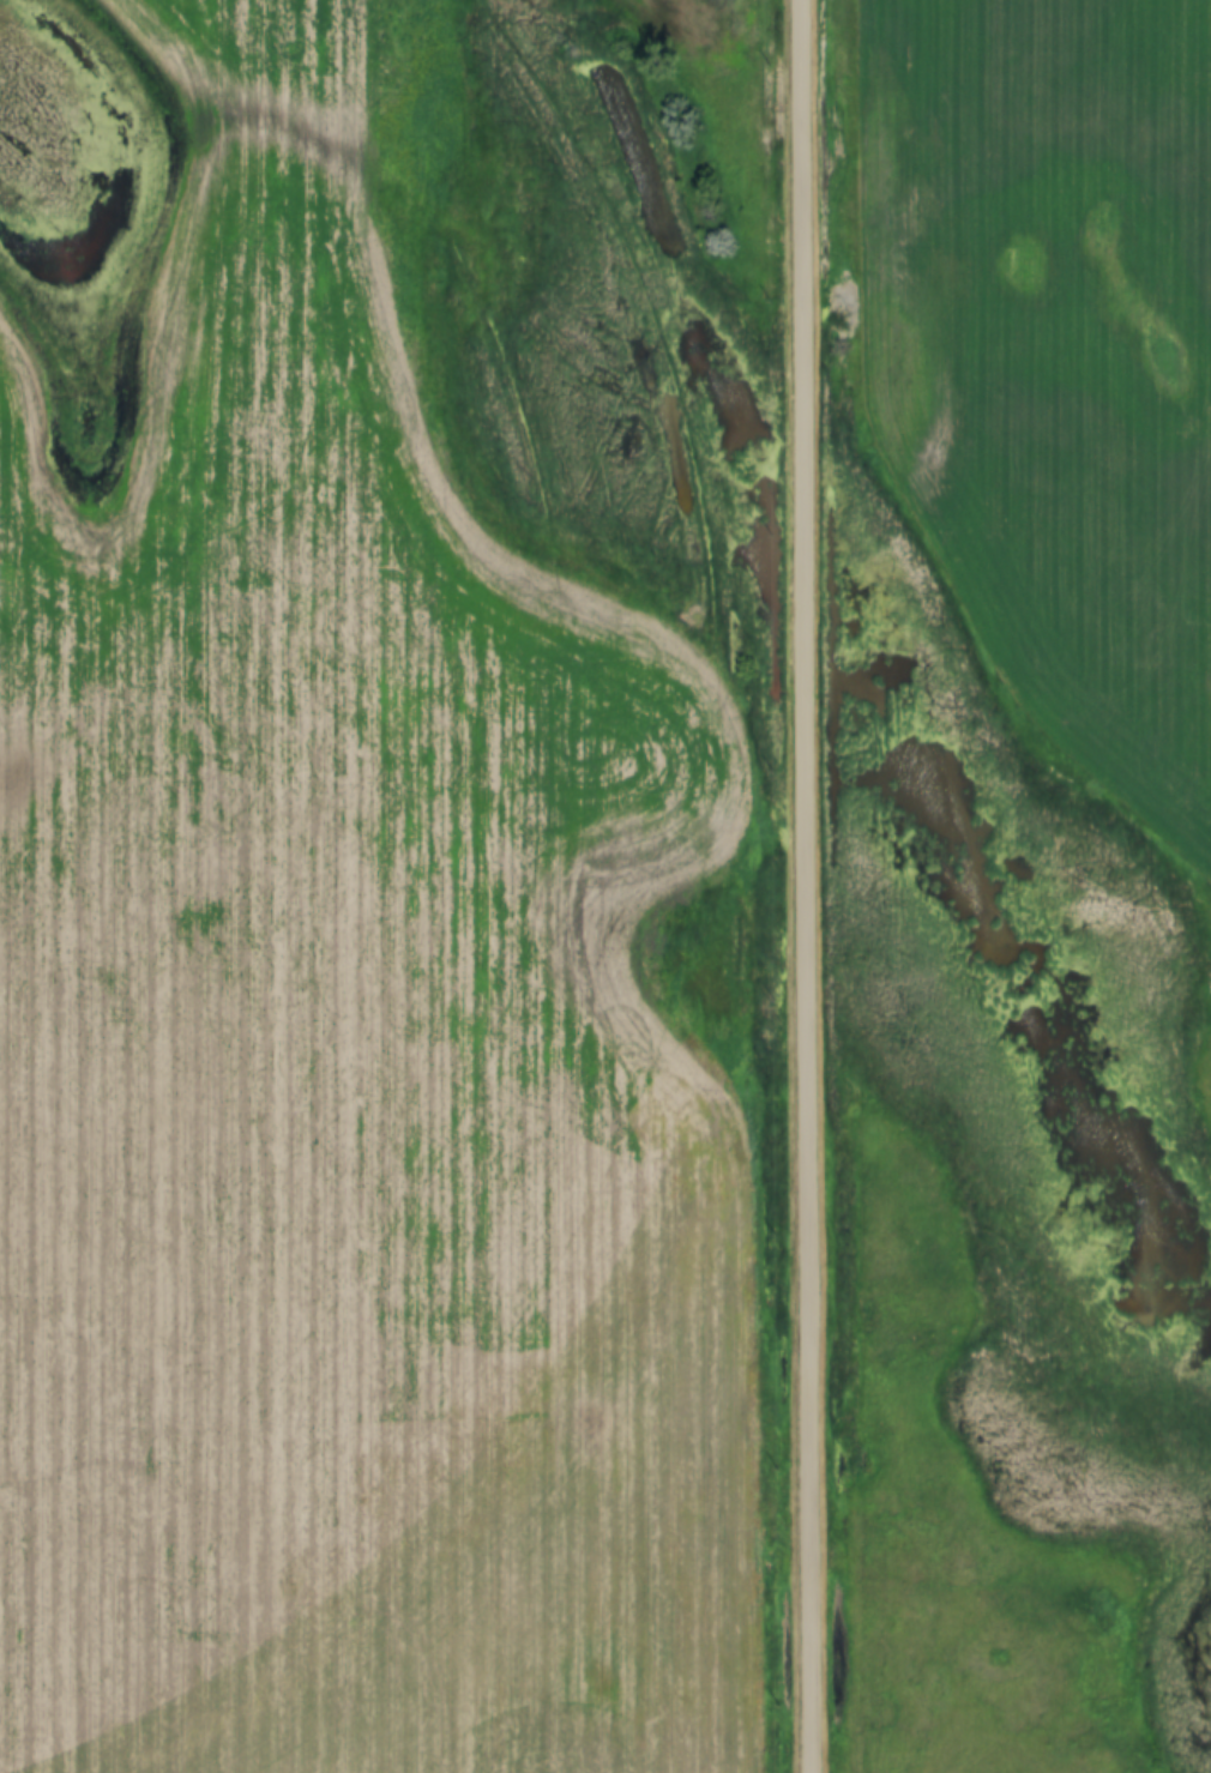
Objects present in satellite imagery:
road: (809, 886)

